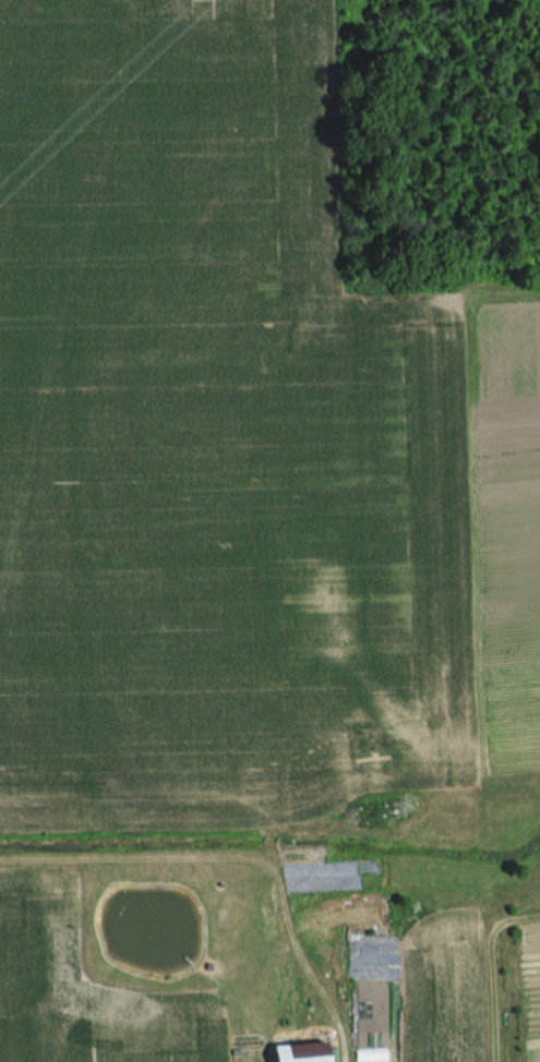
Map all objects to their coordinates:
crop: (238, 448)
building: (395, 915)
crop: (393, 960)
crop: (84, 989)
crop: (531, 992)
building: (296, 1053)

